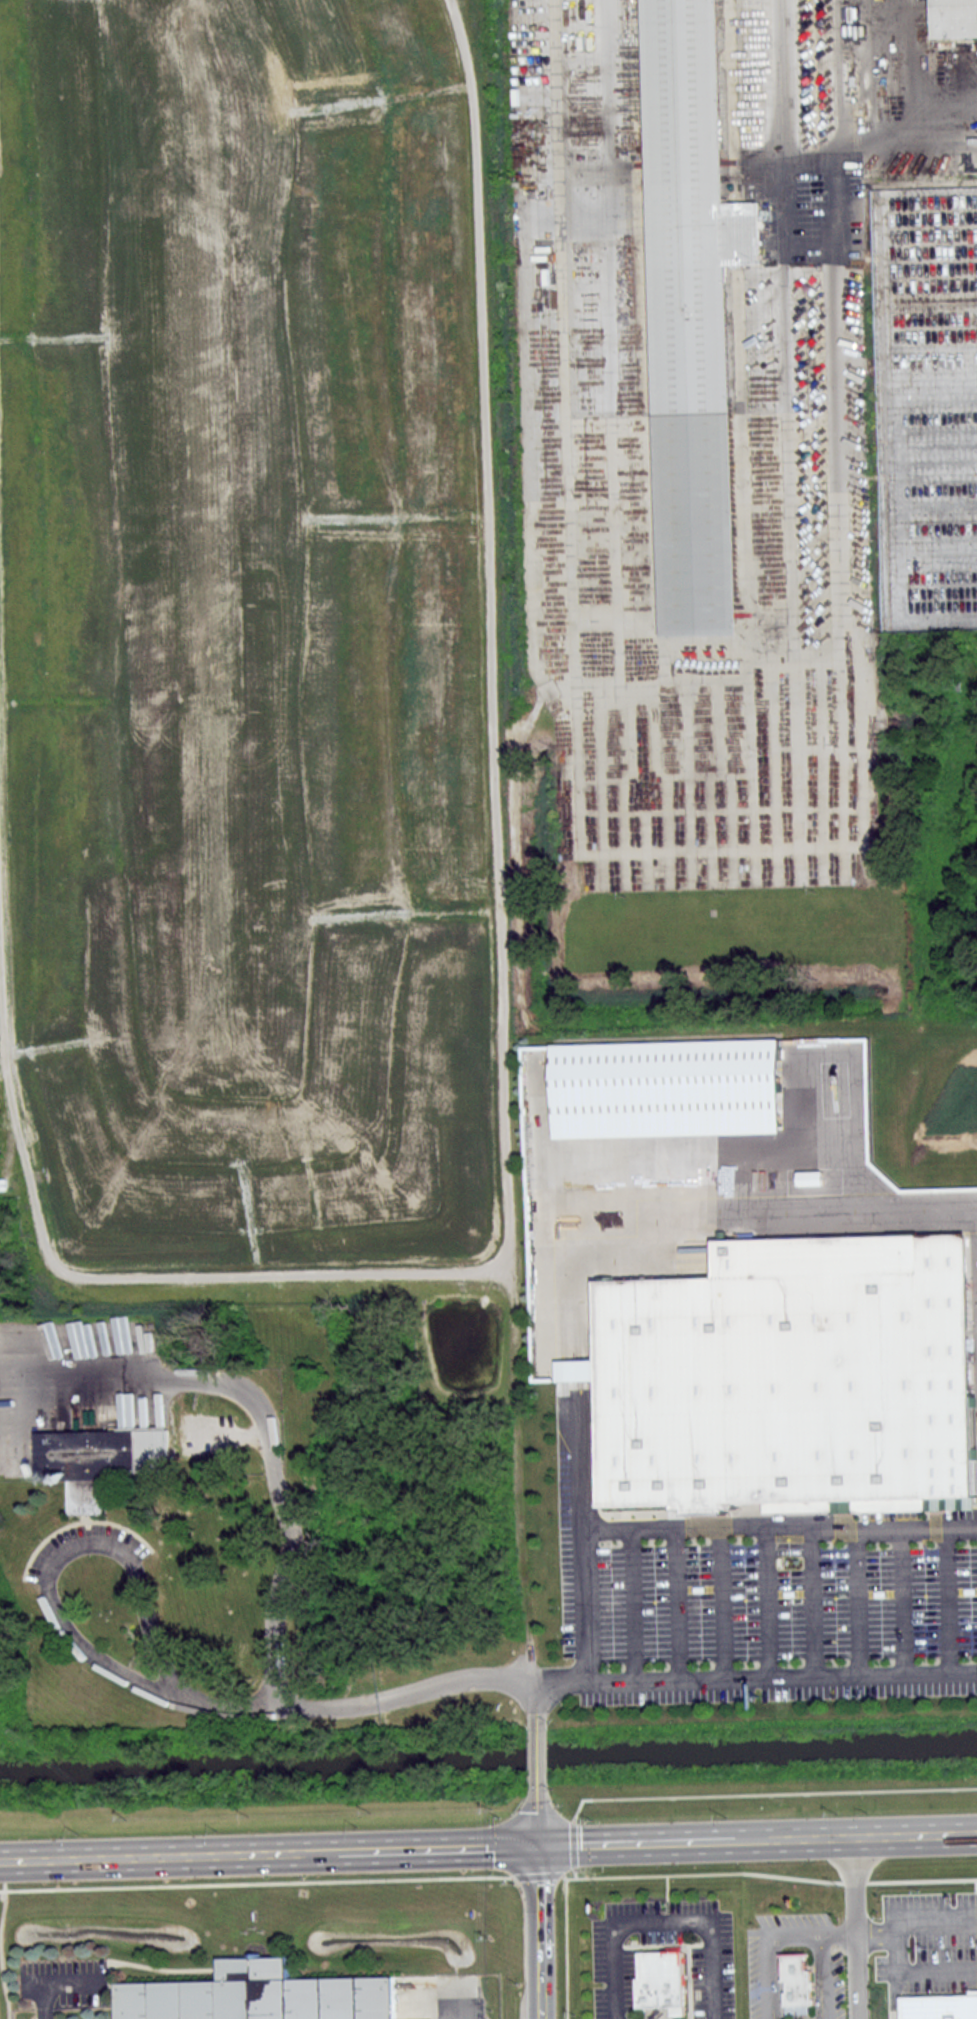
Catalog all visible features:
building: (957, 18)
road: (781, 64)
building: (693, 313)
parking lot: (737, 411)
landfill: (257, 633)
road: (483, 638)
road: (58, 1267)
building: (748, 1278)
road: (258, 1404)
building: (100, 1461)
road: (779, 1526)
road: (581, 1531)
road: (77, 1638)
road: (753, 1678)
road: (452, 1679)
road: (532, 1697)
road: (534, 1748)
road: (537, 1815)
road: (915, 1834)
road: (695, 1840)
traffic signals: (538, 1845)
road: (269, 1853)
road: (661, 1919)
road: (913, 1926)
road: (855, 1927)
road: (539, 1932)
road: (841, 1933)
road: (826, 1943)
road: (766, 1948)
road: (918, 1970)
building: (662, 1979)
building: (796, 1983)
road: (827, 1986)
building: (262, 1998)
road: (46, 2002)
road: (457, 2003)
building: (941, 2006)

